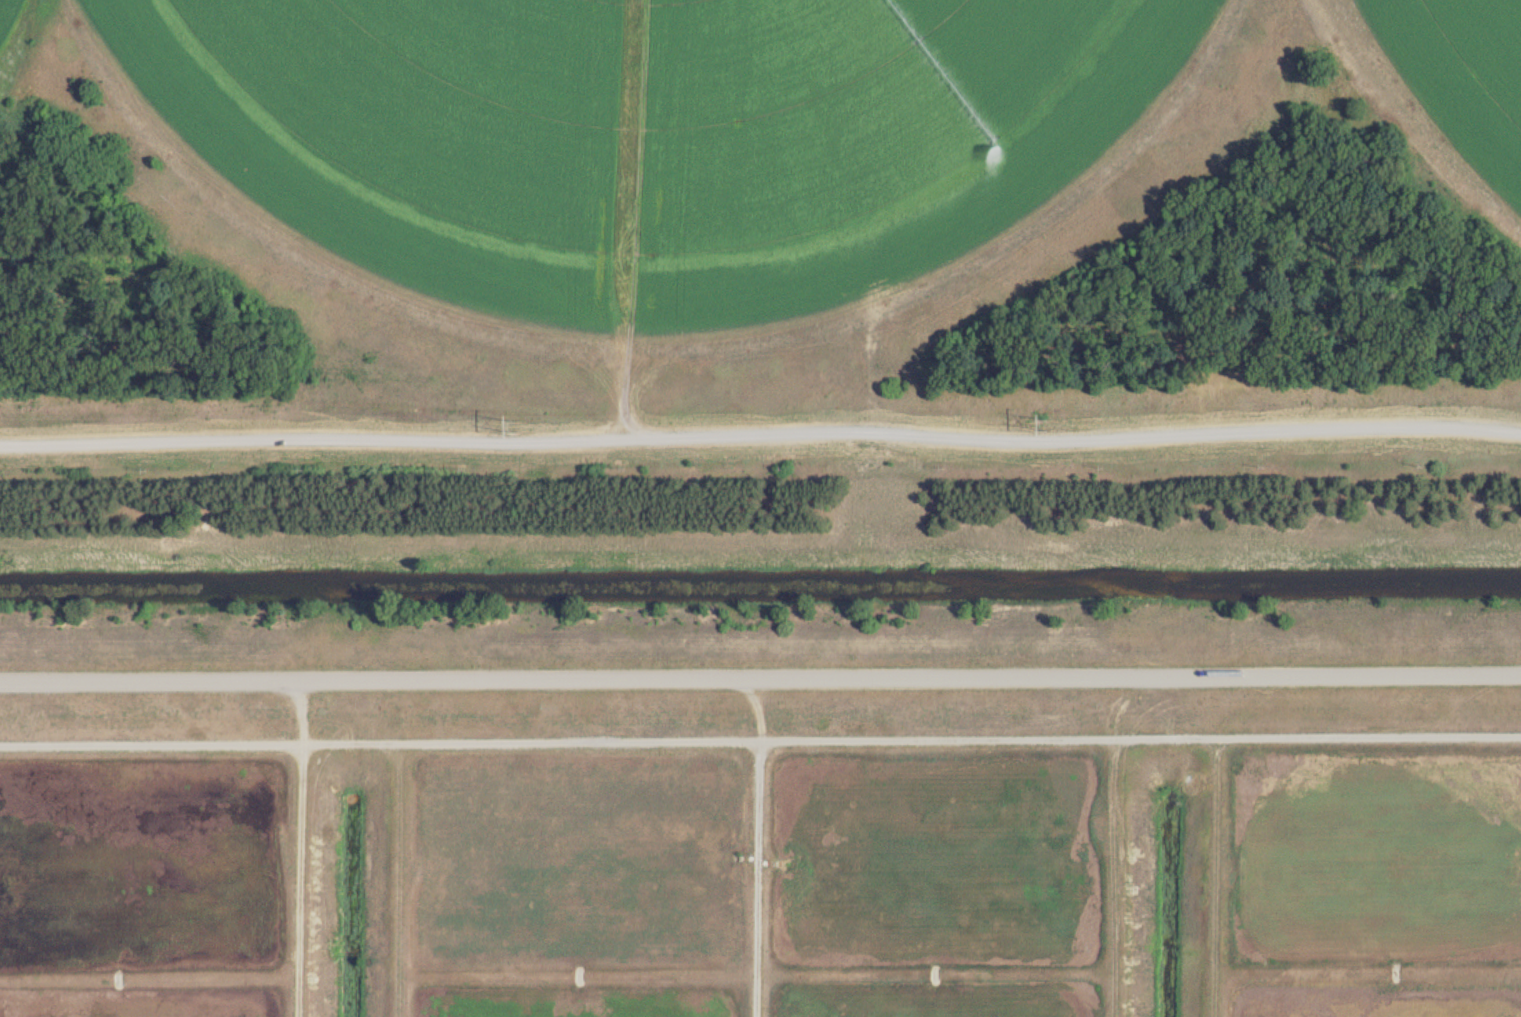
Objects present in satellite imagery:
power tower: (518, 416)
power tower: (1049, 418)
wastewater plant: (760, 508)
road: (760, 673)
road: (760, 738)

